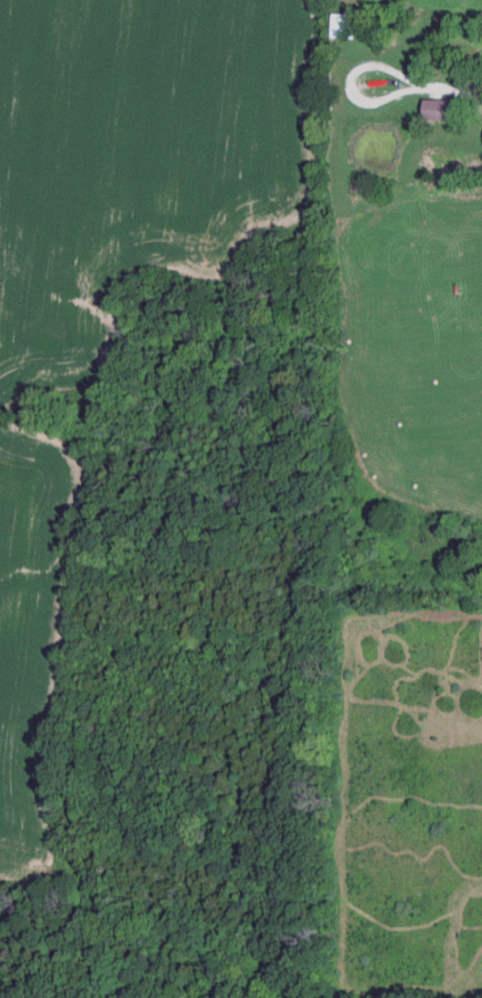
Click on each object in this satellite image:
building: (343, 29)
road: (421, 89)
building: (439, 112)

